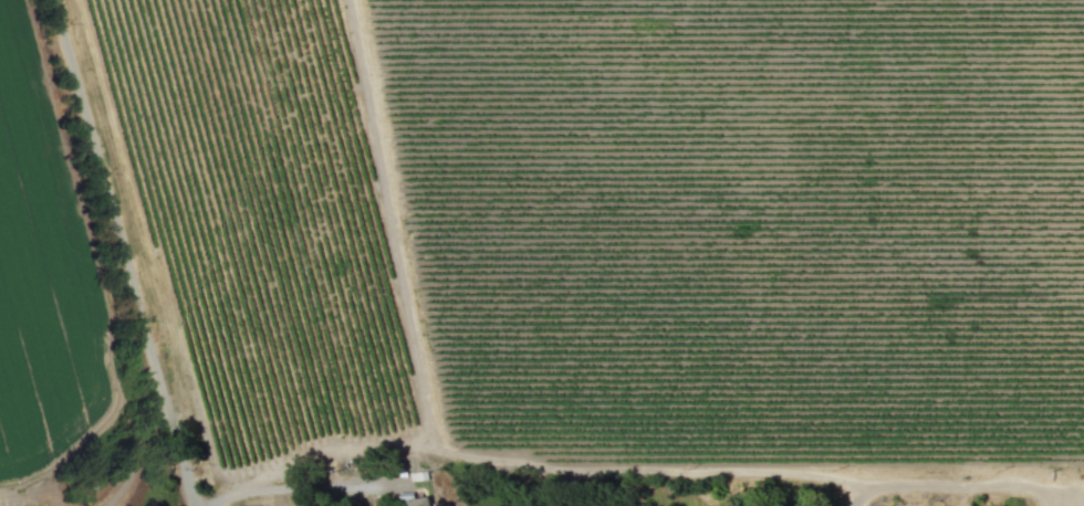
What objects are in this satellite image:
road: (124, 253)
road: (962, 484)
road: (304, 485)

